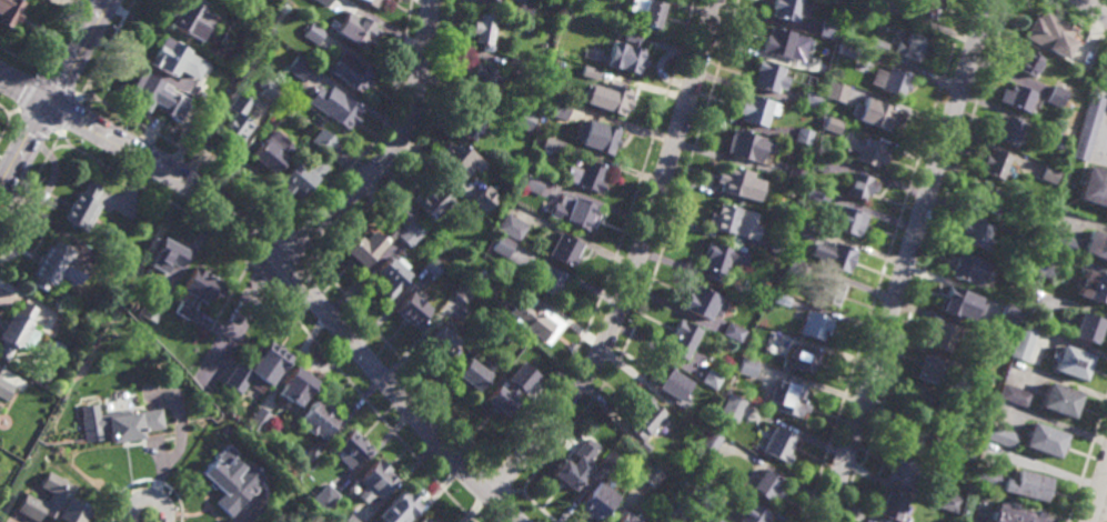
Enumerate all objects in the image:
building: (494, 0)
building: (322, 2)
building: (332, 2)
building: (371, 2)
building: (874, 2)
building: (924, 7)
road: (1095, 7)
building: (521, 9)
building: (787, 9)
building: (10, 11)
building: (646, 12)
building: (191, 18)
road: (1077, 19)
building: (358, 28)
building: (827, 29)
building: (483, 30)
building: (313, 33)
building: (1050, 33)
road: (53, 36)
building: (777, 41)
building: (877, 46)
building: (912, 47)
road: (105, 48)
building: (846, 49)
road: (77, 51)
building: (626, 53)
road: (18, 57)
building: (174, 59)
building: (1031, 64)
building: (514, 66)
building: (298, 67)
building: (571, 68)
building: (1105, 68)
building: (351, 71)
building: (587, 71)
building: (769, 76)
building: (481, 81)
building: (890, 81)
road: (56, 86)
road: (24, 89)
building: (270, 90)
road: (26, 91)
building: (837, 91)
road: (90, 92)
building: (1058, 93)
building: (158, 97)
building: (1018, 97)
building: (614, 98)
building: (812, 98)
traffic signals: (49, 103)
building: (334, 107)
building: (556, 108)
building: (757, 110)
road: (4, 111)
road: (12, 111)
building: (877, 114)
road: (69, 116)
road: (37, 121)
building: (235, 121)
building: (471, 121)
road: (4, 122)
building: (525, 124)
building: (833, 124)
building: (1088, 128)
road: (380, 130)
building: (1009, 131)
building: (804, 135)
building: (602, 138)
building: (1058, 139)
building: (323, 141)
building: (550, 145)
building: (749, 145)
road: (23, 147)
road: (58, 147)
road: (412, 148)
road: (391, 149)
building: (865, 150)
building: (270, 151)
road: (192, 154)
building: (821, 161)
building: (459, 163)
building: (996, 164)
building: (794, 172)
building: (1050, 174)
building: (585, 175)
building: (300, 178)
building: (532, 182)
building: (737, 182)
building: (862, 185)
road: (29, 187)
building: (1095, 187)
building: (814, 193)
road: (155, 194)
building: (486, 199)
building: (986, 200)
building: (432, 202)
building: (1043, 205)
building: (84, 207)
building: (788, 210)
building: (402, 213)
building: (580, 214)
building: (847, 220)
building: (734, 221)
building: (511, 228)
building: (806, 230)
building: (410, 234)
building: (978, 235)
building: (1027, 240)
road: (617, 242)
building: (1063, 242)
road: (300, 243)
building: (1096, 244)
building: (502, 245)
building: (779, 245)
building: (364, 249)
building: (565, 250)
building: (165, 254)
building: (838, 255)
road: (311, 257)
road: (662, 260)
building: (722, 260)
road: (885, 260)
road: (254, 261)
road: (907, 261)
road: (925, 261)
road: (637, 265)
building: (49, 267)
building: (433, 267)
building: (796, 268)
building: (967, 269)
building: (1049, 270)
road: (268, 272)
building: (1010, 274)
building: (392, 277)
building: (547, 280)
road: (303, 287)
building: (1093, 288)
building: (198, 291)
building: (829, 291)
building: (464, 292)
road: (276, 293)
building: (782, 299)
building: (702, 302)
building: (953, 302)
road: (271, 304)
building: (152, 309)
building: (413, 312)
building: (1010, 314)
road: (218, 318)
building: (534, 318)
building: (493, 325)
building: (815, 325)
building: (1088, 329)
building: (763, 331)
building: (18, 332)
building: (734, 332)
building: (940, 337)
building: (683, 340)
building: (443, 343)
building: (1022, 343)
building: (805, 359)
building: (1074, 363)
building: (748, 367)
road: (406, 368)
building: (258, 369)
building: (932, 370)
building: (474, 374)
building: (0, 375)
building: (983, 378)
building: (712, 379)
building: (668, 382)
building: (296, 388)
building: (4, 390)
building: (507, 393)
building: (1016, 395)
building: (789, 399)
building: (1060, 401)
building: (922, 404)
building: (733, 406)
road: (375, 412)
building: (646, 419)
building: (258, 421)
building: (319, 421)
building: (122, 426)
building: (580, 432)
building: (1003, 436)
building: (975, 439)
building: (711, 441)
building: (913, 441)
building: (1046, 441)
building: (779, 444)
building: (645, 445)
building: (352, 449)
building: (964, 451)
building: (311, 452)
road: (1087, 459)
building: (610, 462)
building: (574, 464)
building: (701, 472)
building: (906, 472)
building: (651, 473)
building: (228, 476)
building: (988, 478)
building: (375, 479)
road: (147, 480)
road: (499, 481)
building: (767, 483)
building: (1028, 483)
road: (516, 490)
building: (324, 495)
road: (148, 496)
building: (597, 499)
road: (1099, 499)
building: (53, 502)
building: (949, 502)
building: (675, 504)
building: (893, 504)
building: (400, 505)
road: (540, 506)
building: (751, 513)
building: (1014, 513)
building: (627, 516)
building: (348, 519)
building: (713, 519)
building: (427, 520)

